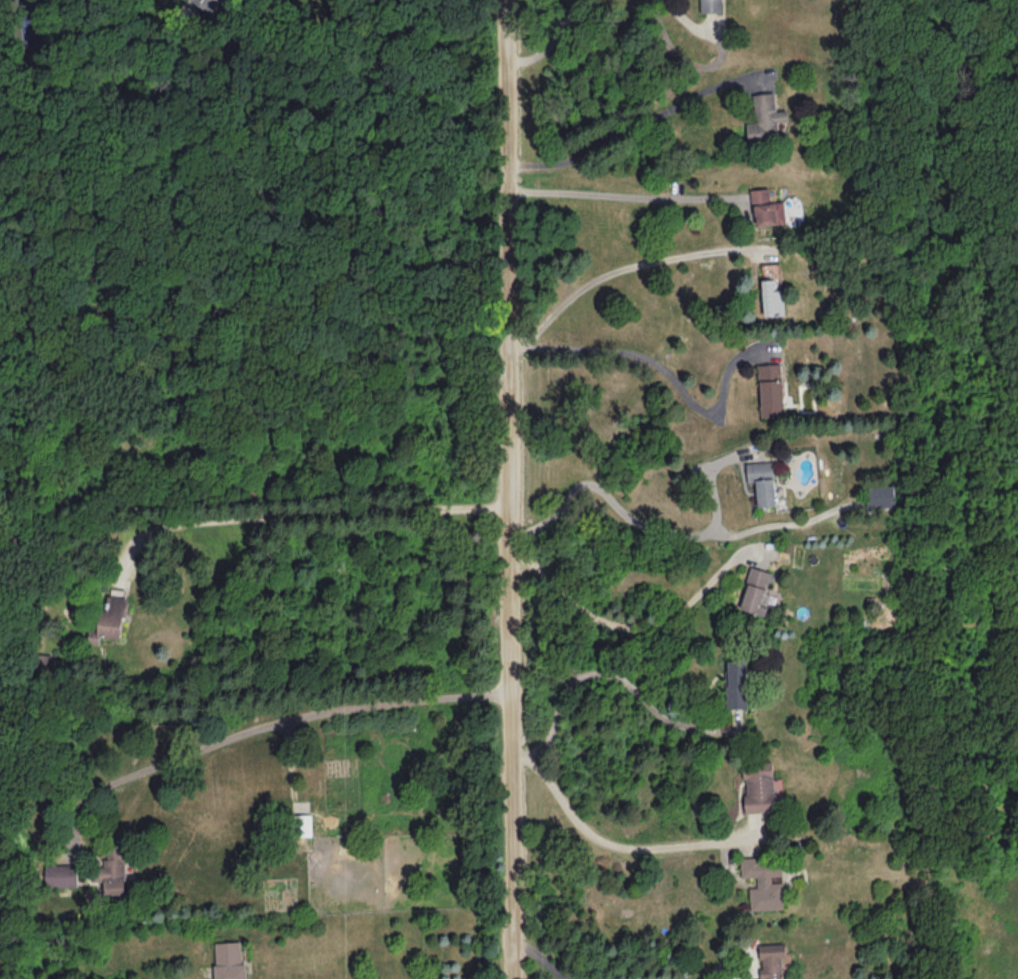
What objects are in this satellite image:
building: (209, 4)
building: (712, 5)
road: (550, 42)
road: (286, 47)
building: (765, 117)
road: (617, 129)
road: (613, 193)
building: (767, 207)
road: (623, 269)
building: (773, 296)
road: (652, 361)
building: (771, 389)
park: (959, 410)
building: (762, 480)
road: (512, 489)
building: (880, 497)
road: (303, 515)
road: (788, 524)
road: (653, 527)
building: (758, 591)
building: (109, 619)
road: (963, 623)
road: (630, 625)
road: (610, 674)
building: (737, 683)
road: (268, 723)
building: (758, 785)
building: (302, 823)
road: (614, 845)
building: (111, 872)
building: (60, 873)
building: (764, 881)
road: (544, 958)
building: (772, 959)
building: (229, 960)
road: (698, 975)

